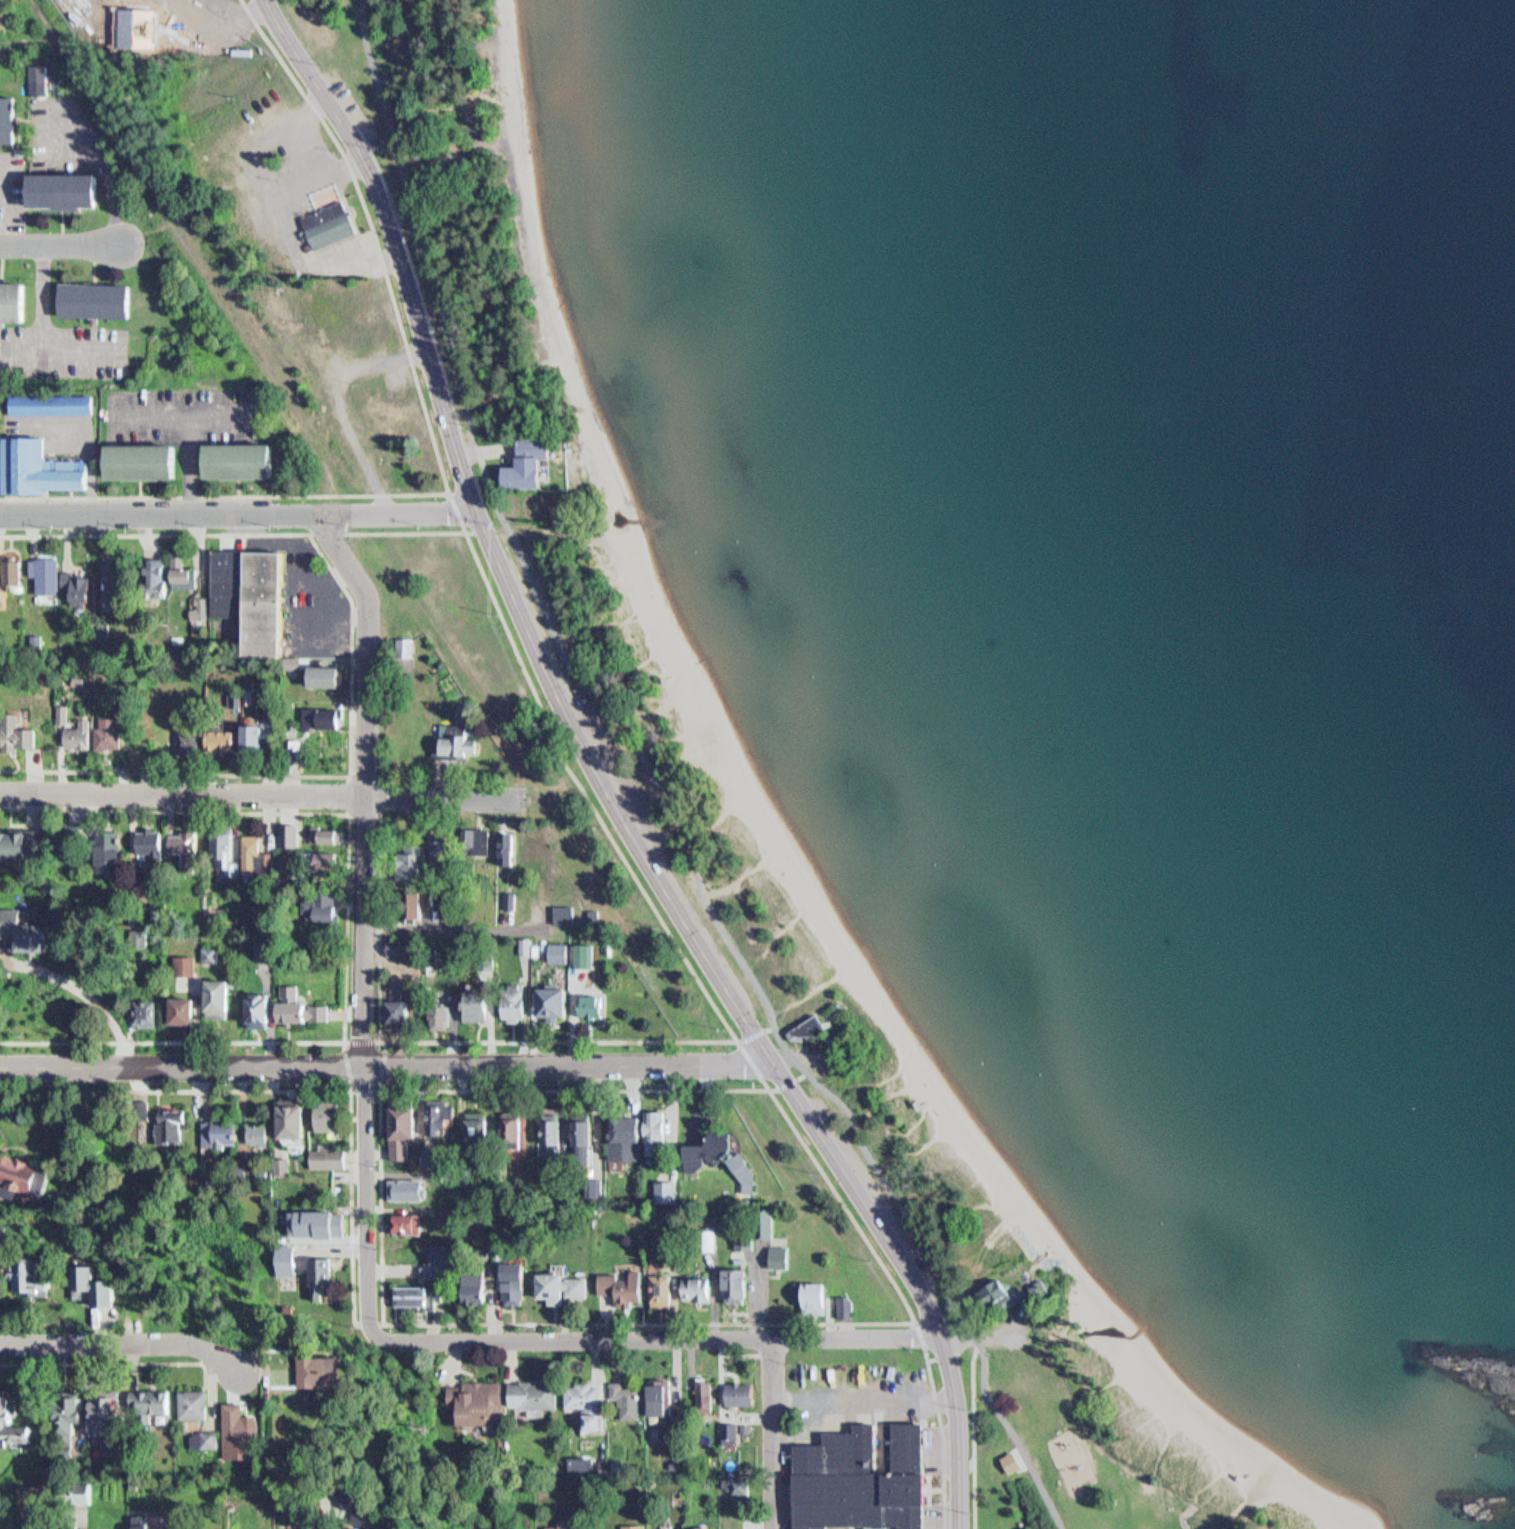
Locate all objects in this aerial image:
road: (243, 14)
park: (428, 66)
building: (8, 121)
road: (323, 172)
parking lot: (306, 179)
building: (66, 191)
road: (204, 199)
building: (332, 224)
road: (62, 243)
road: (189, 243)
building: (96, 298)
building: (14, 301)
parking lot: (64, 351)
building: (52, 403)
road: (340, 405)
parking lot: (179, 410)
road: (439, 448)
road: (488, 449)
building: (245, 457)
building: (148, 458)
building: (0, 461)
building: (537, 463)
building: (43, 469)
road: (459, 510)
road: (240, 514)
road: (329, 531)
building: (42, 567)
building: (10, 568)
building: (163, 569)
building: (231, 582)
building: (73, 585)
building: (123, 591)
building: (271, 602)
building: (403, 643)
road: (354, 666)
building: (321, 670)
building: (668, 677)
building: (240, 689)
building: (317, 713)
building: (13, 727)
building: (247, 727)
building: (104, 728)
building: (67, 729)
building: (267, 734)
building: (451, 734)
building: (186, 735)
building: (216, 736)
building: (290, 742)
road: (601, 777)
road: (662, 792)
road: (262, 793)
road: (350, 808)
building: (284, 829)
building: (320, 829)
building: (292, 834)
building: (471, 835)
building: (19, 836)
building: (147, 836)
building: (503, 841)
building: (181, 843)
building: (526, 844)
building: (104, 846)
building: (514, 847)
building: (220, 848)
building: (448, 848)
building: (536, 849)
building: (252, 851)
building: (414, 853)
building: (313, 855)
building: (507, 895)
building: (411, 898)
building: (317, 902)
building: (561, 908)
building: (453, 909)
building: (590, 910)
building: (569, 913)
road: (365, 920)
road: (347, 922)
building: (19, 925)
building: (259, 940)
building: (394, 941)
building: (523, 941)
building: (555, 946)
building: (208, 949)
building: (580, 950)
building: (563, 951)
building: (217, 954)
building: (181, 959)
building: (210, 991)
road: (709, 992)
building: (510, 994)
building: (222, 997)
building: (472, 999)
building: (545, 999)
building: (295, 1001)
building: (435, 1002)
building: (251, 1003)
building: (588, 1003)
building: (397, 1004)
building: (178, 1005)
building: (140, 1006)
building: (265, 1007)
building: (408, 1010)
building: (806, 1022)
building: (814, 1028)
road: (756, 1031)
road: (756, 1063)
road: (386, 1064)
road: (790, 1078)
road: (383, 1084)
road: (249, 1088)
building: (135, 1101)
building: (322, 1110)
building: (435, 1113)
building: (286, 1114)
building: (168, 1118)
building: (299, 1120)
building: (475, 1123)
building: (215, 1125)
building: (397, 1125)
building: (547, 1126)
building: (508, 1127)
building: (651, 1130)
building: (255, 1131)
building: (555, 1131)
building: (620, 1132)
building: (589, 1134)
building: (711, 1142)
building: (687, 1151)
building: (325, 1153)
building: (413, 1153)
building: (436, 1157)
building: (577, 1158)
building: (236, 1159)
building: (280, 1159)
road: (822, 1165)
building: (285, 1166)
building: (14, 1169)
building: (740, 1169)
building: (34, 1176)
building: (404, 1183)
building: (660, 1187)
building: (670, 1191)
building: (328, 1217)
building: (401, 1218)
building: (705, 1235)
building: (750, 1237)
building: (774, 1251)
building: (284, 1252)
building: (435, 1256)
building: (786, 1256)
building: (317, 1270)
building: (19, 1272)
building: (46, 1275)
building: (556, 1279)
building: (509, 1280)
building: (727, 1280)
building: (616, 1281)
building: (86, 1282)
building: (692, 1282)
building: (482, 1285)
building: (520, 1285)
building: (655, 1285)
building: (106, 1286)
building: (469, 1286)
building: (742, 1286)
building: (1047, 1286)
building: (666, 1290)
building: (405, 1291)
building: (989, 1292)
building: (808, 1293)
building: (1003, 1293)
building: (822, 1297)
building: (840, 1302)
building: (850, 1307)
road: (18, 1323)
road: (922, 1334)
road: (660, 1338)
road: (125, 1342)
road: (103, 1362)
building: (314, 1369)
building: (336, 1371)
building: (702, 1389)
building: (735, 1391)
building: (654, 1392)
building: (527, 1393)
building: (629, 1394)
building: (581, 1398)
building: (474, 1399)
building: (147, 1400)
building: (187, 1401)
building: (65, 1418)
building: (103, 1418)
building: (12, 1422)
building: (725, 1424)
building: (236, 1427)
building: (734, 1432)
road: (777, 1433)
building: (202, 1434)
road: (976, 1434)
road: (946, 1437)
park: (1146, 1441)
building: (1008, 1456)
building: (672, 1460)
building: (1256, 1467)
building: (856, 1475)
building: (728, 1479)
building: (744, 1487)
building: (80, 1488)
building: (33, 1489)
building: (42, 1495)
building: (153, 1522)
building: (560, 1523)
building: (630, 1523)
building: (697, 1525)
building: (370, 1527)
building: (316, 1528)

